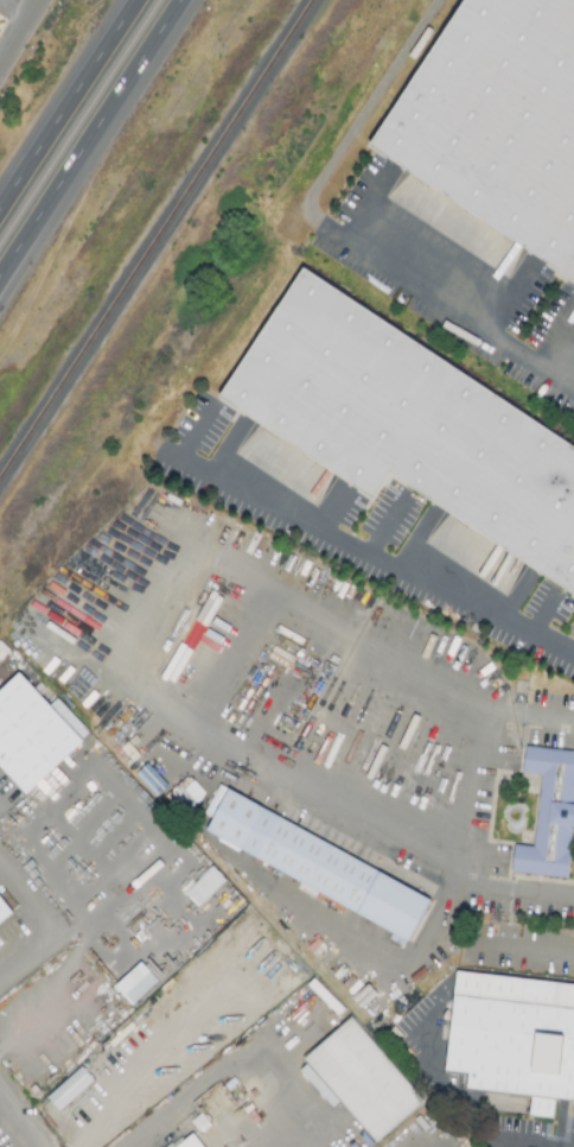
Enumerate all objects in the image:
road: (14, 13)
road: (21, 34)
road: (66, 102)
building: (499, 122)
road: (89, 137)
road: (340, 232)
railway: (158, 241)
building: (409, 420)
road: (387, 527)
road: (352, 550)
building: (193, 635)
road: (573, 660)
road: (218, 684)
road: (550, 712)
building: (33, 727)
road: (461, 805)
building: (549, 815)
building: (323, 863)
building: (205, 887)
road: (546, 892)
building: (5, 910)
road: (34, 915)
road: (519, 951)
building: (136, 984)
building: (516, 1045)
road: (433, 1066)
building: (369, 1078)
building: (70, 1089)
road: (14, 1127)
building: (196, 1142)
road: (529, 1142)

